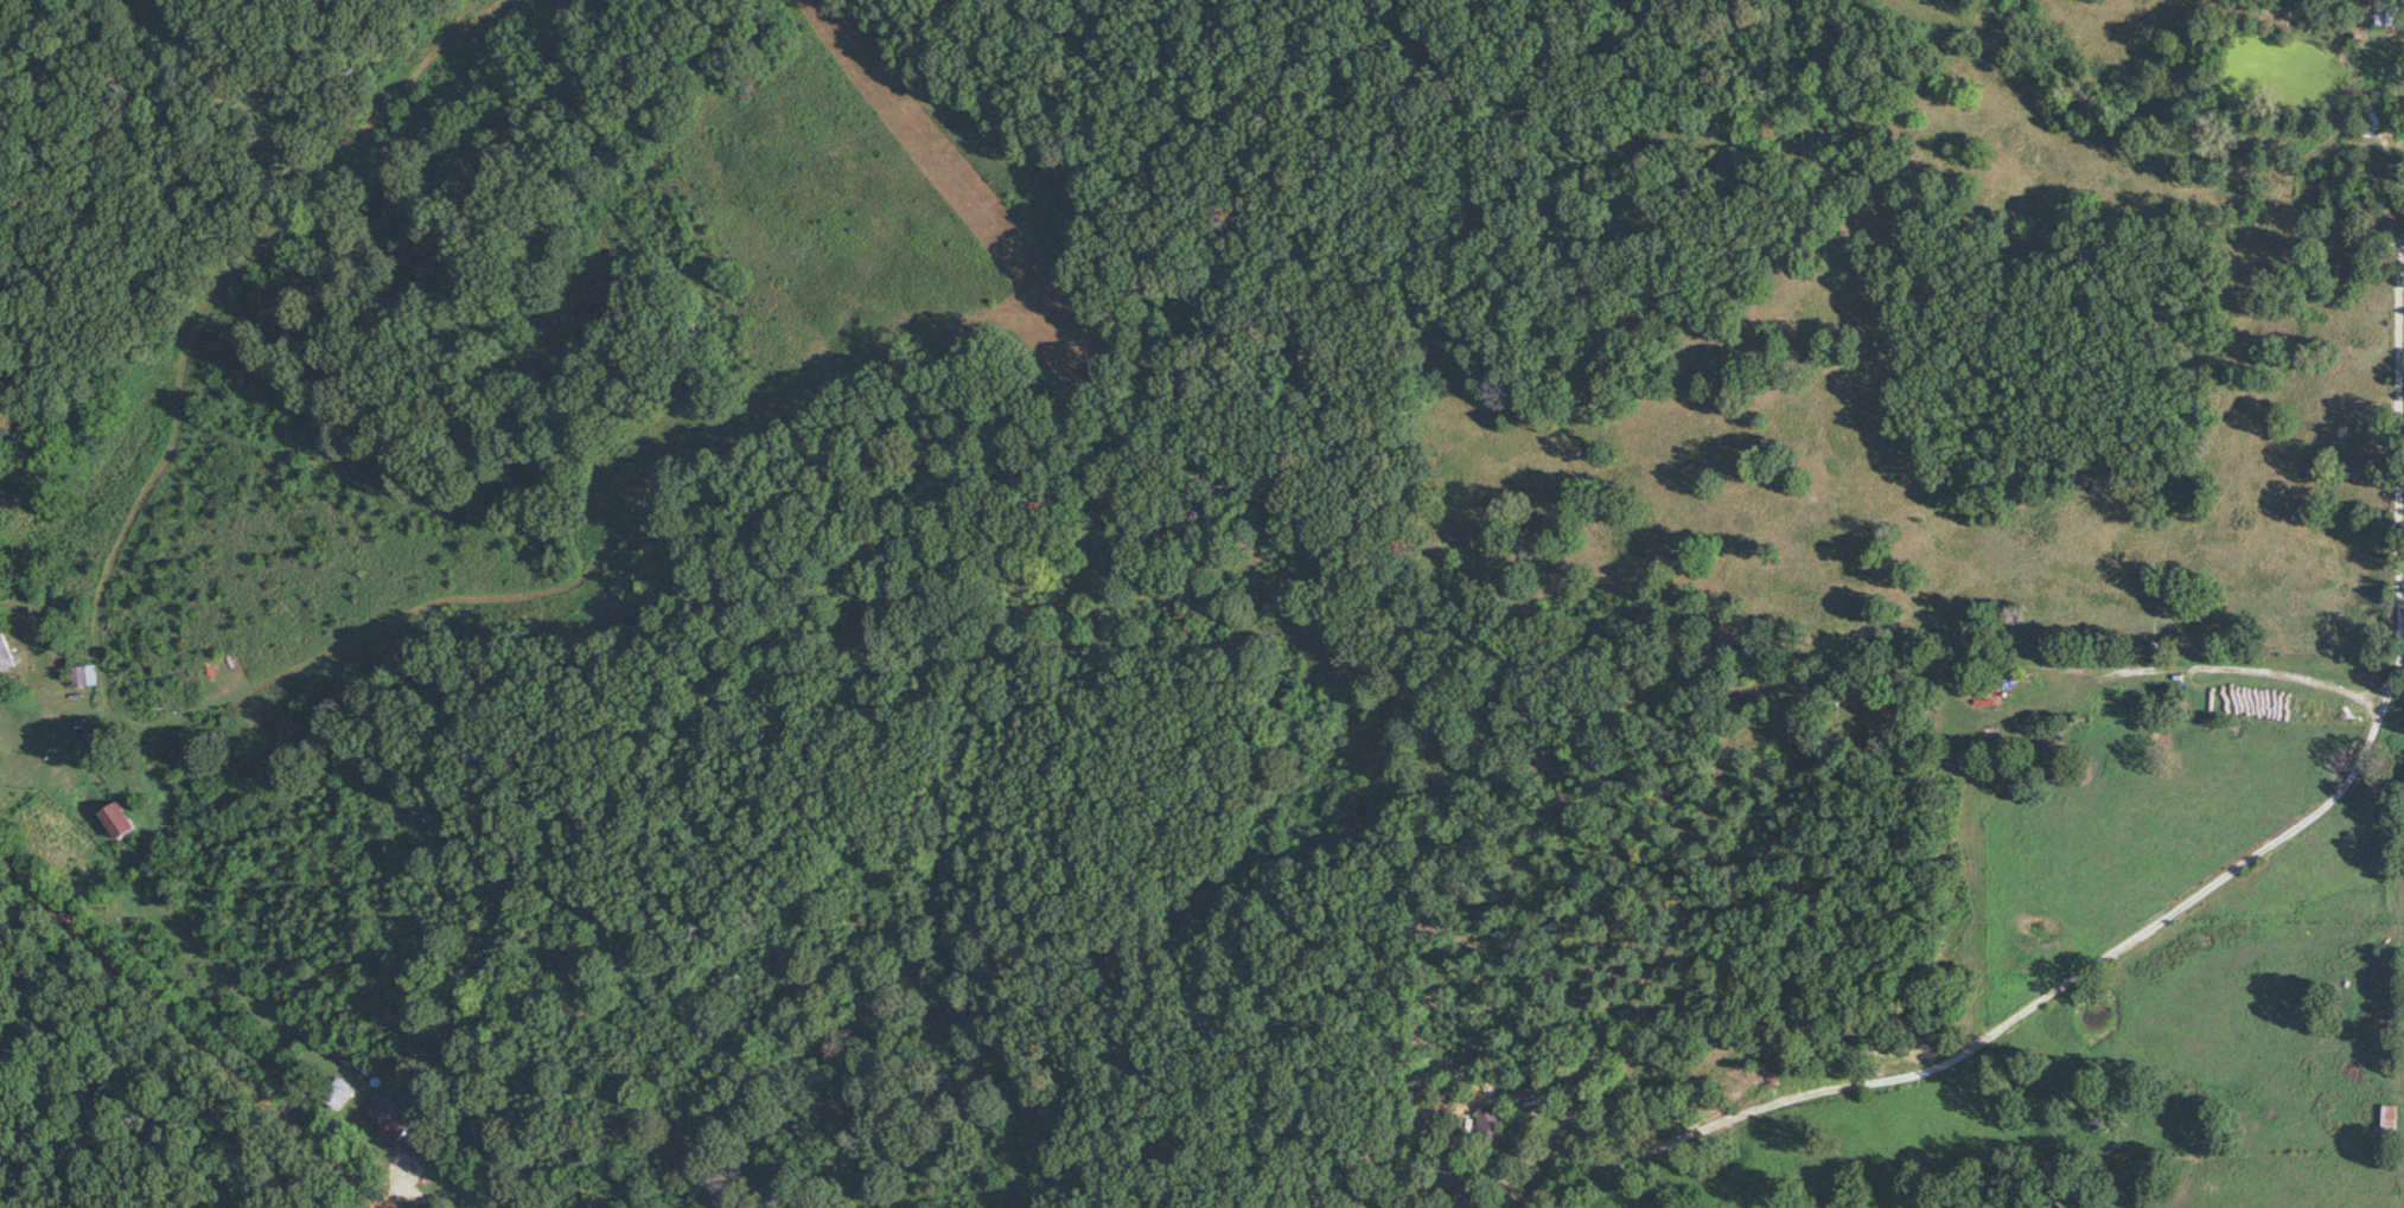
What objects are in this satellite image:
building: (2378, 15)
building: (2366, 121)
building: (7, 654)
building: (85, 676)
road: (38, 703)
road: (2208, 890)
road: (183, 1038)
building: (337, 1095)
building: (388, 1118)
building: (2390, 1118)
building: (1493, 1125)
building: (696, 1185)
building: (601, 1204)

